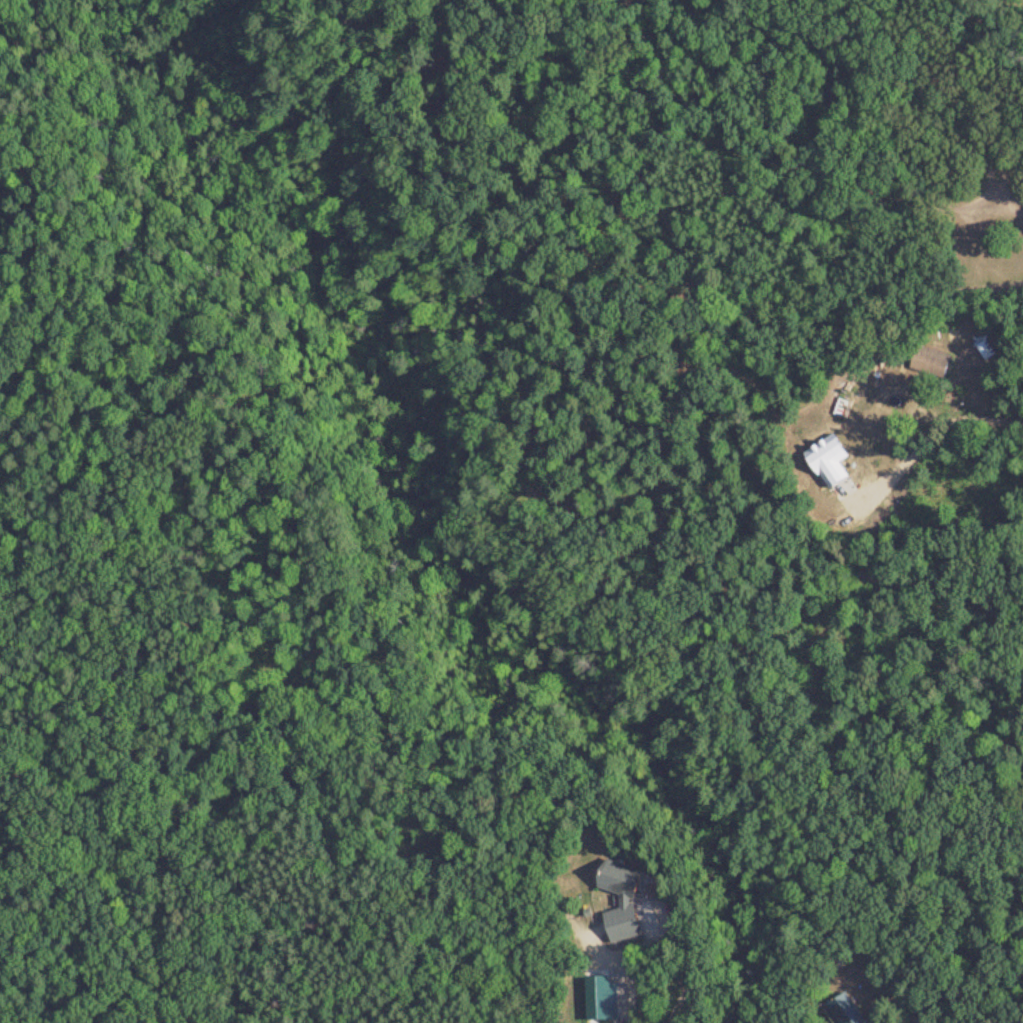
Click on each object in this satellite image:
road: (813, 100)
road: (711, 274)
road: (922, 379)
building: (885, 386)
road: (937, 432)
building: (613, 901)
road: (907, 991)

